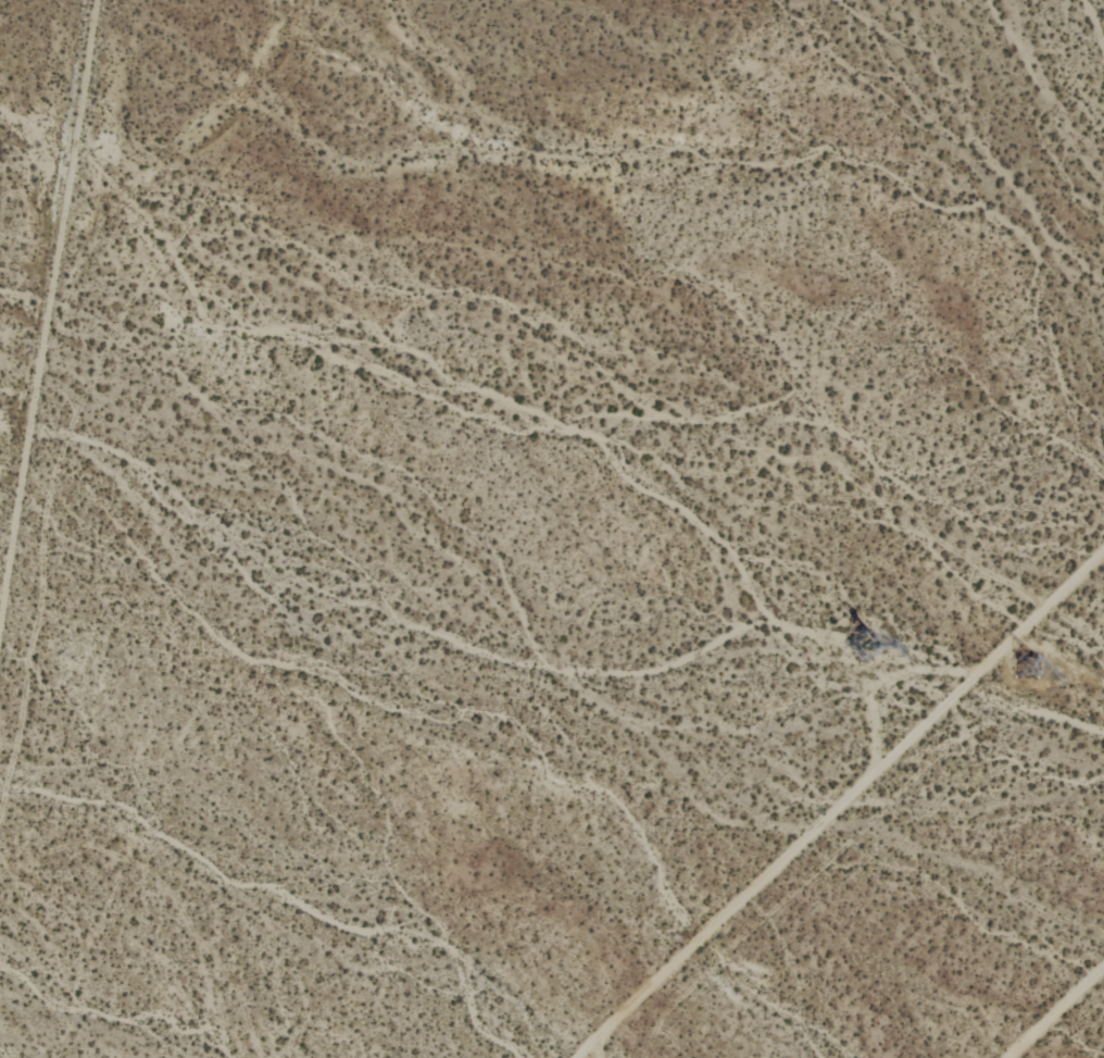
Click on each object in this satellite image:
power tower: (868, 644)
power tower: (1016, 671)
road: (841, 807)
road: (1055, 1011)

